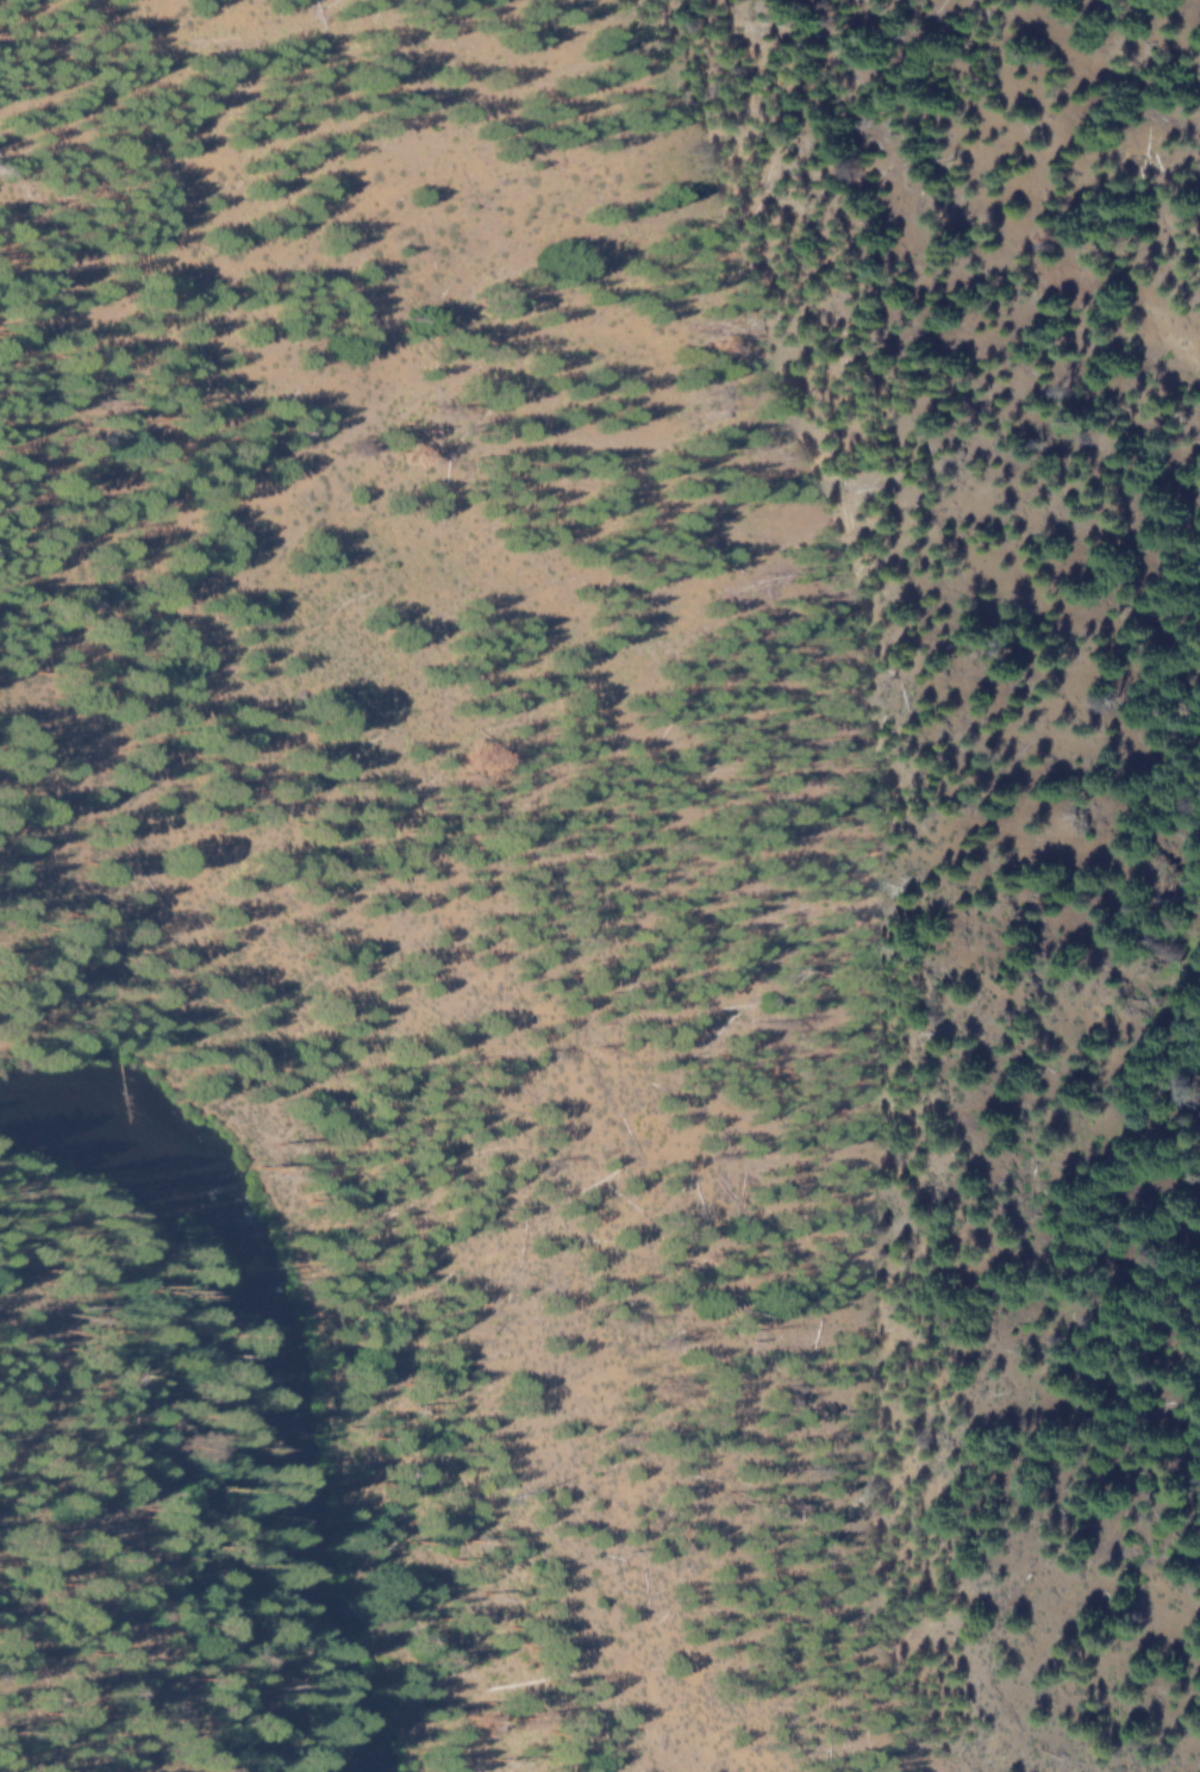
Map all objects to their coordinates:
road: (310, 1315)
river: (276, 1371)

